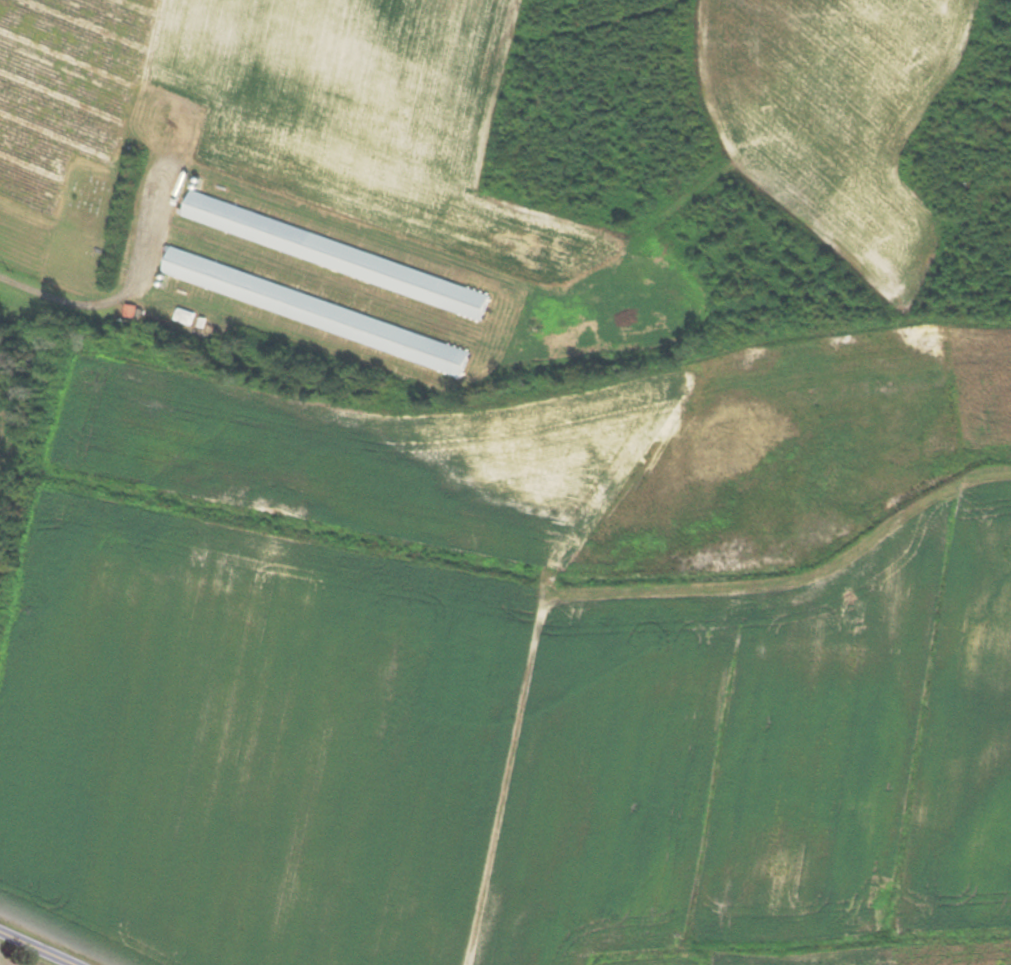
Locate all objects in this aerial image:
building: (336, 254)
road: (117, 302)
building: (316, 310)
road: (37, 948)

